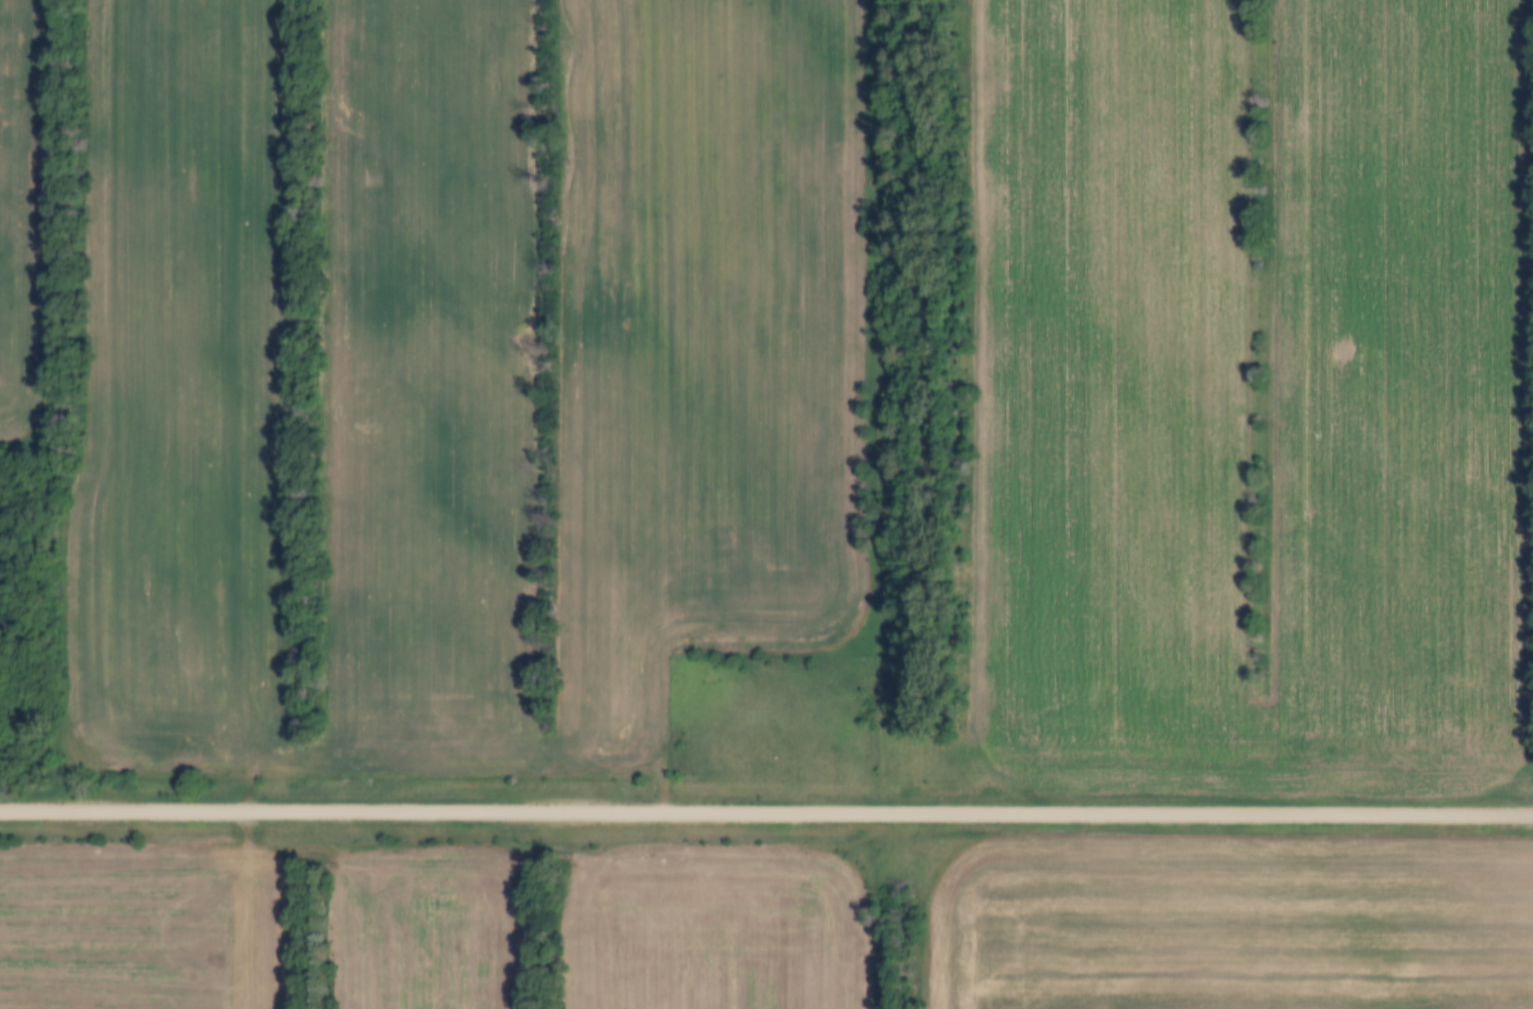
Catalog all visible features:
road: (766, 815)

